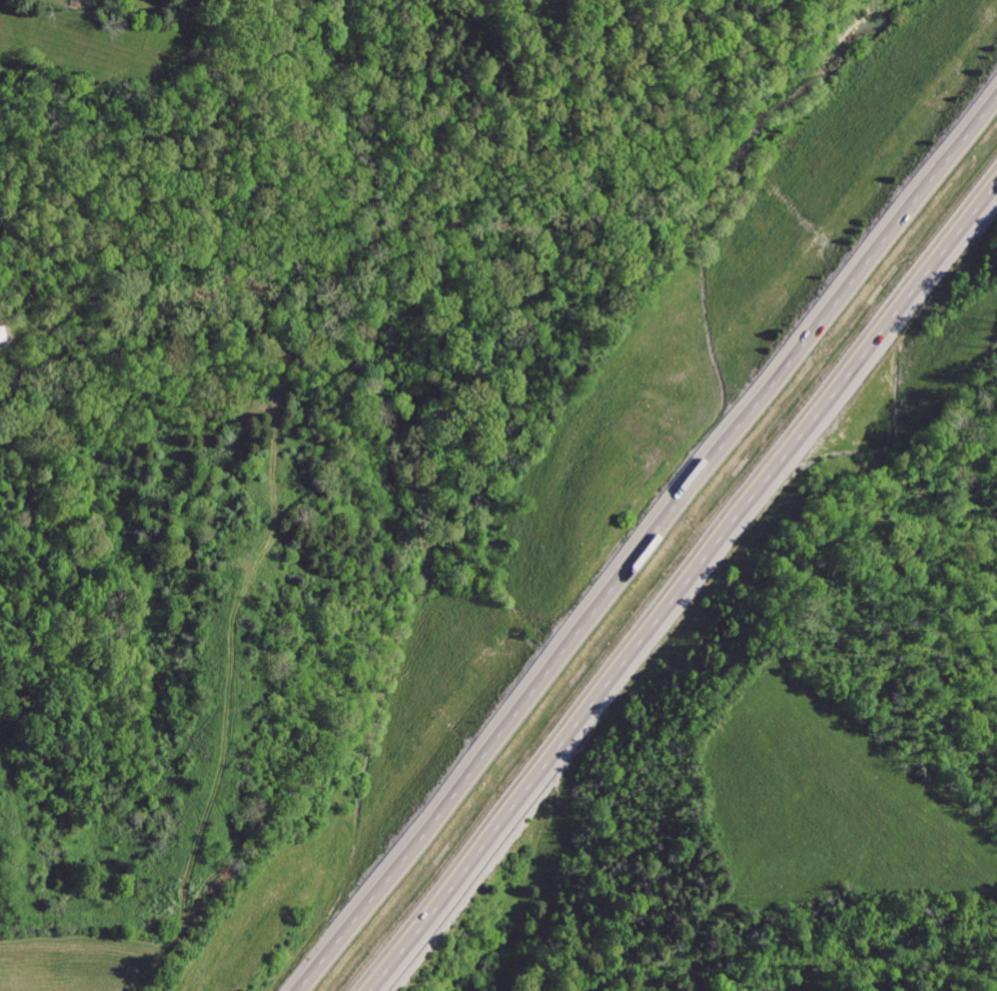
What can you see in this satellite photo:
road: (650, 545)
road: (687, 603)

